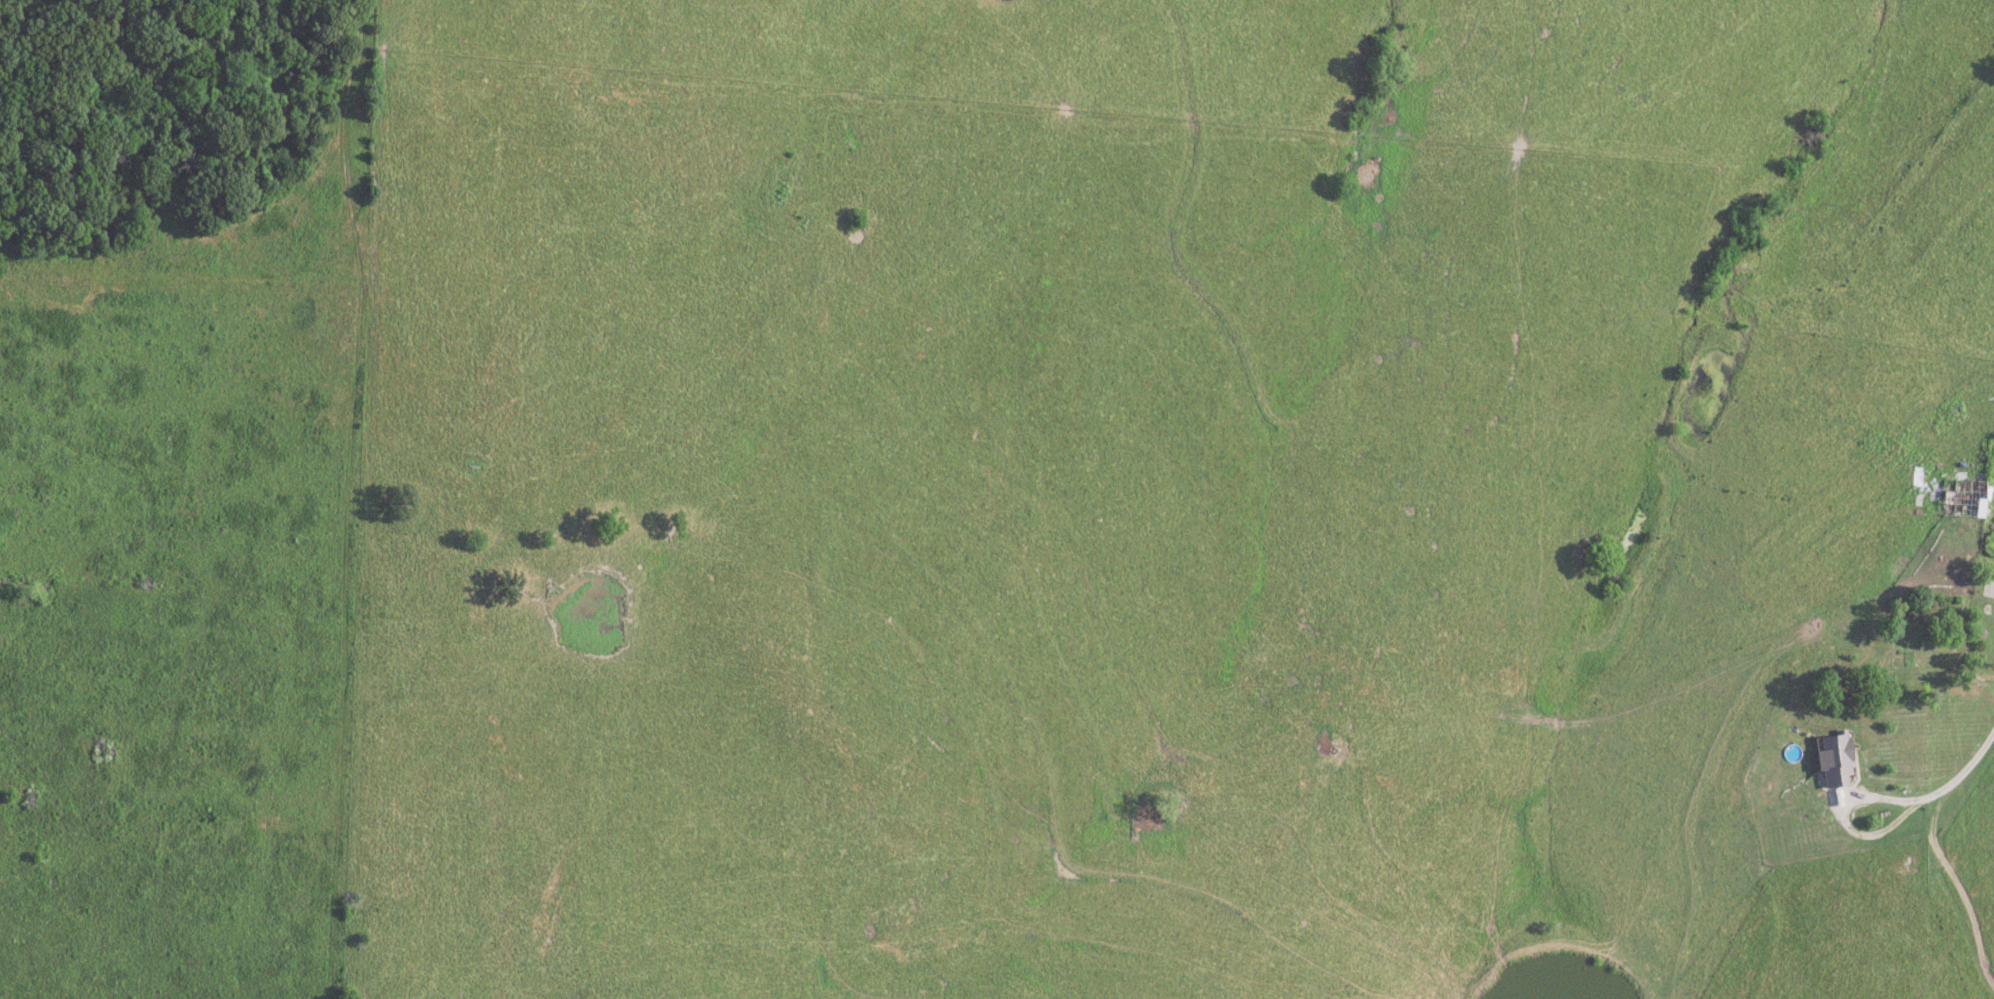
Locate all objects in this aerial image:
building: (1965, 497)
building: (1905, 658)
road: (1991, 678)
road: (1933, 795)

